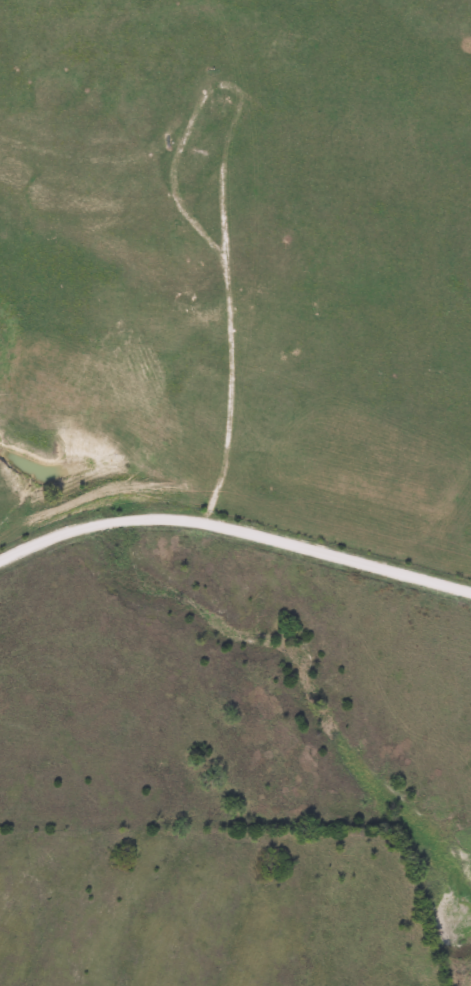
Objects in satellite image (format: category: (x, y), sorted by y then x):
road: (235, 528)

